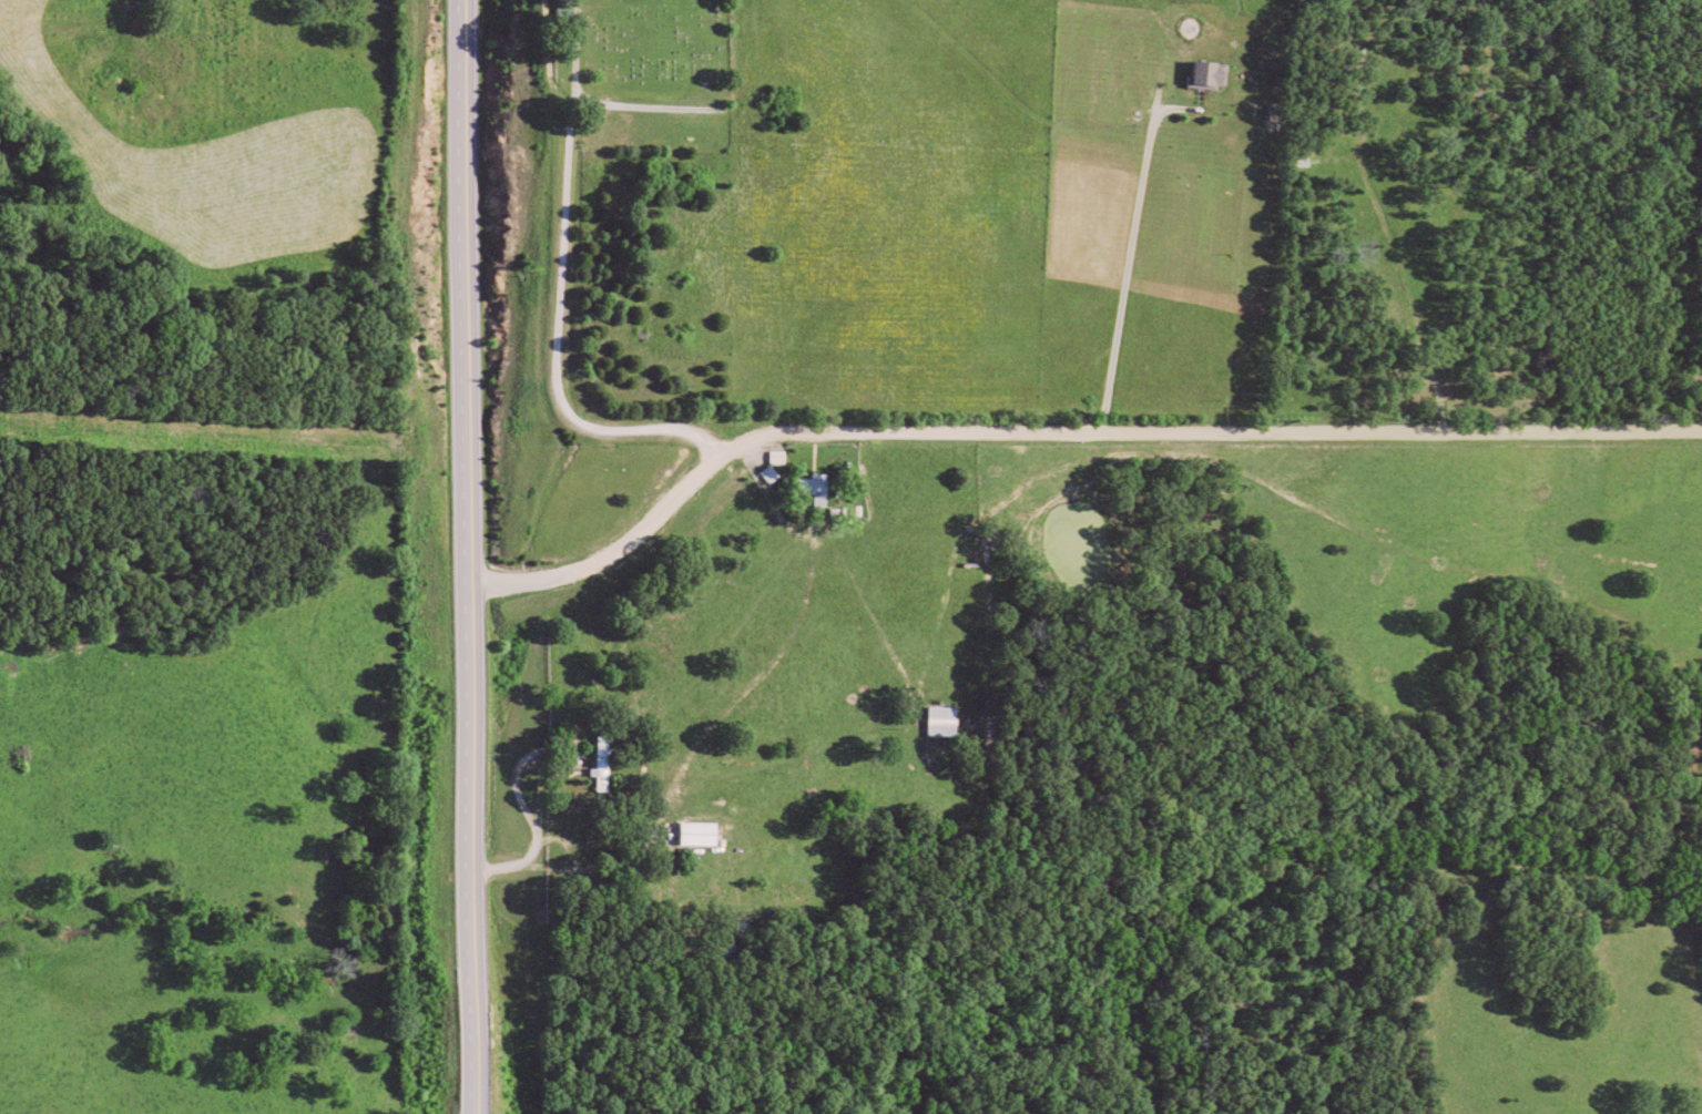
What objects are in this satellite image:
building: (1212, 73)
park: (636, 78)
road: (1060, 430)
building: (819, 487)
road: (468, 556)
building: (948, 720)
building: (609, 763)
building: (705, 832)

